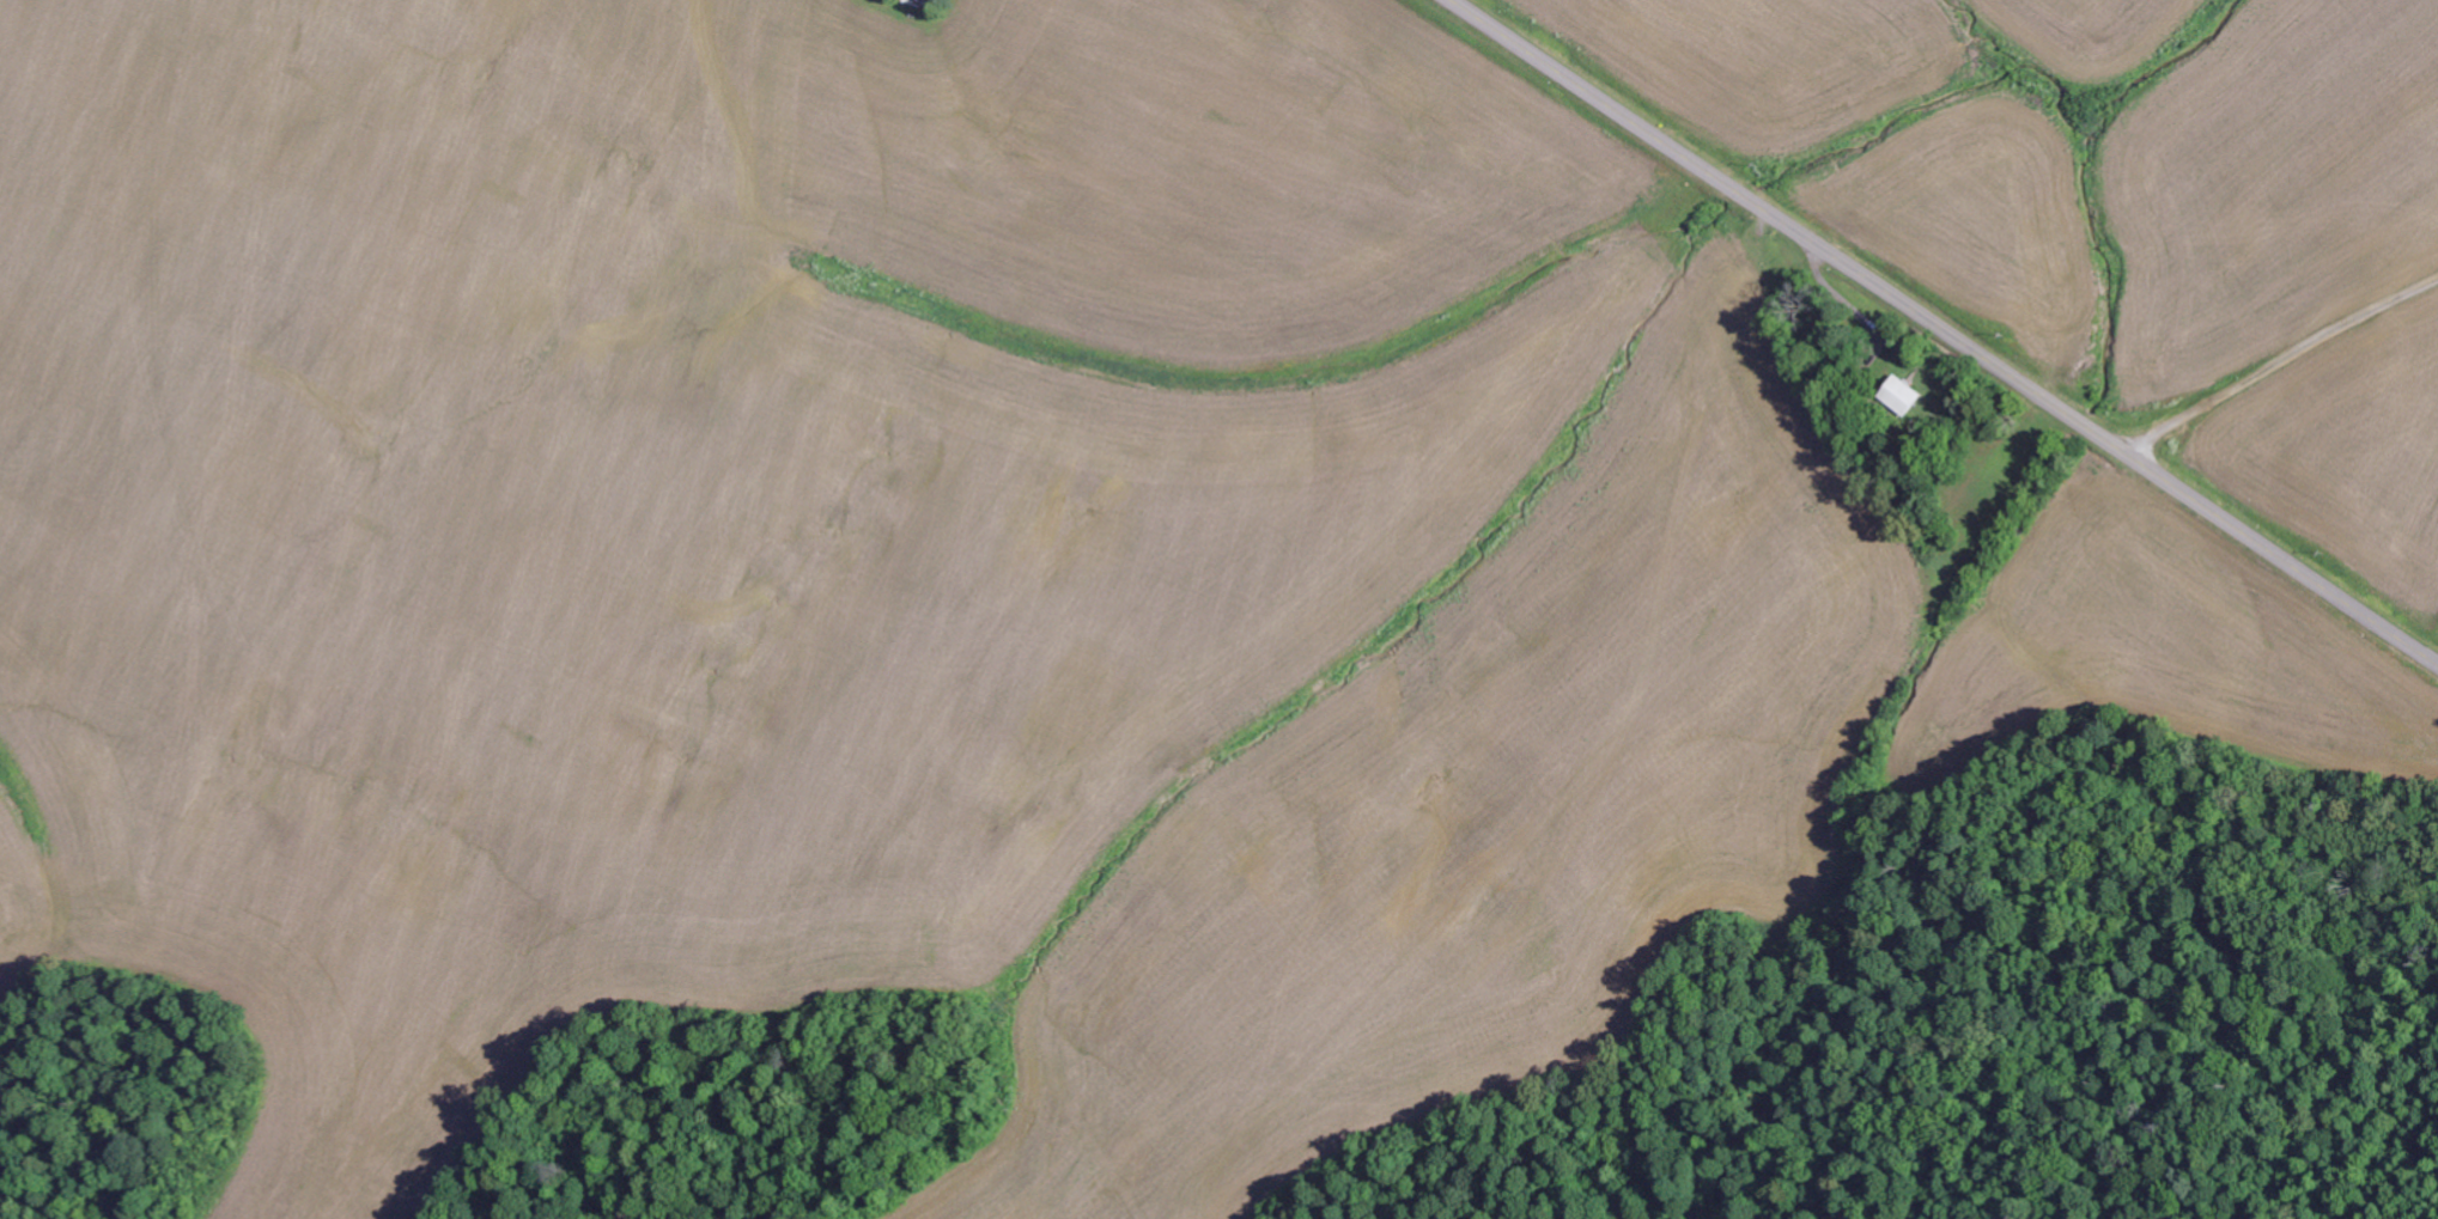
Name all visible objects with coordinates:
road: (1945, 330)
building: (1907, 395)

